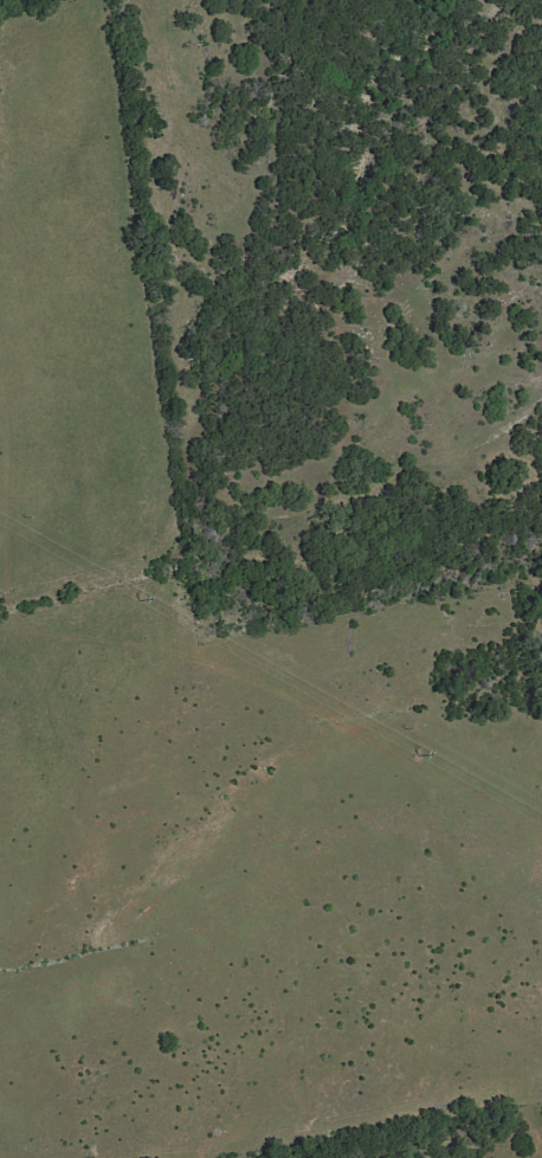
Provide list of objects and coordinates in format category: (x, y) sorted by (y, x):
power tower: (140, 600)
power tower: (419, 755)

